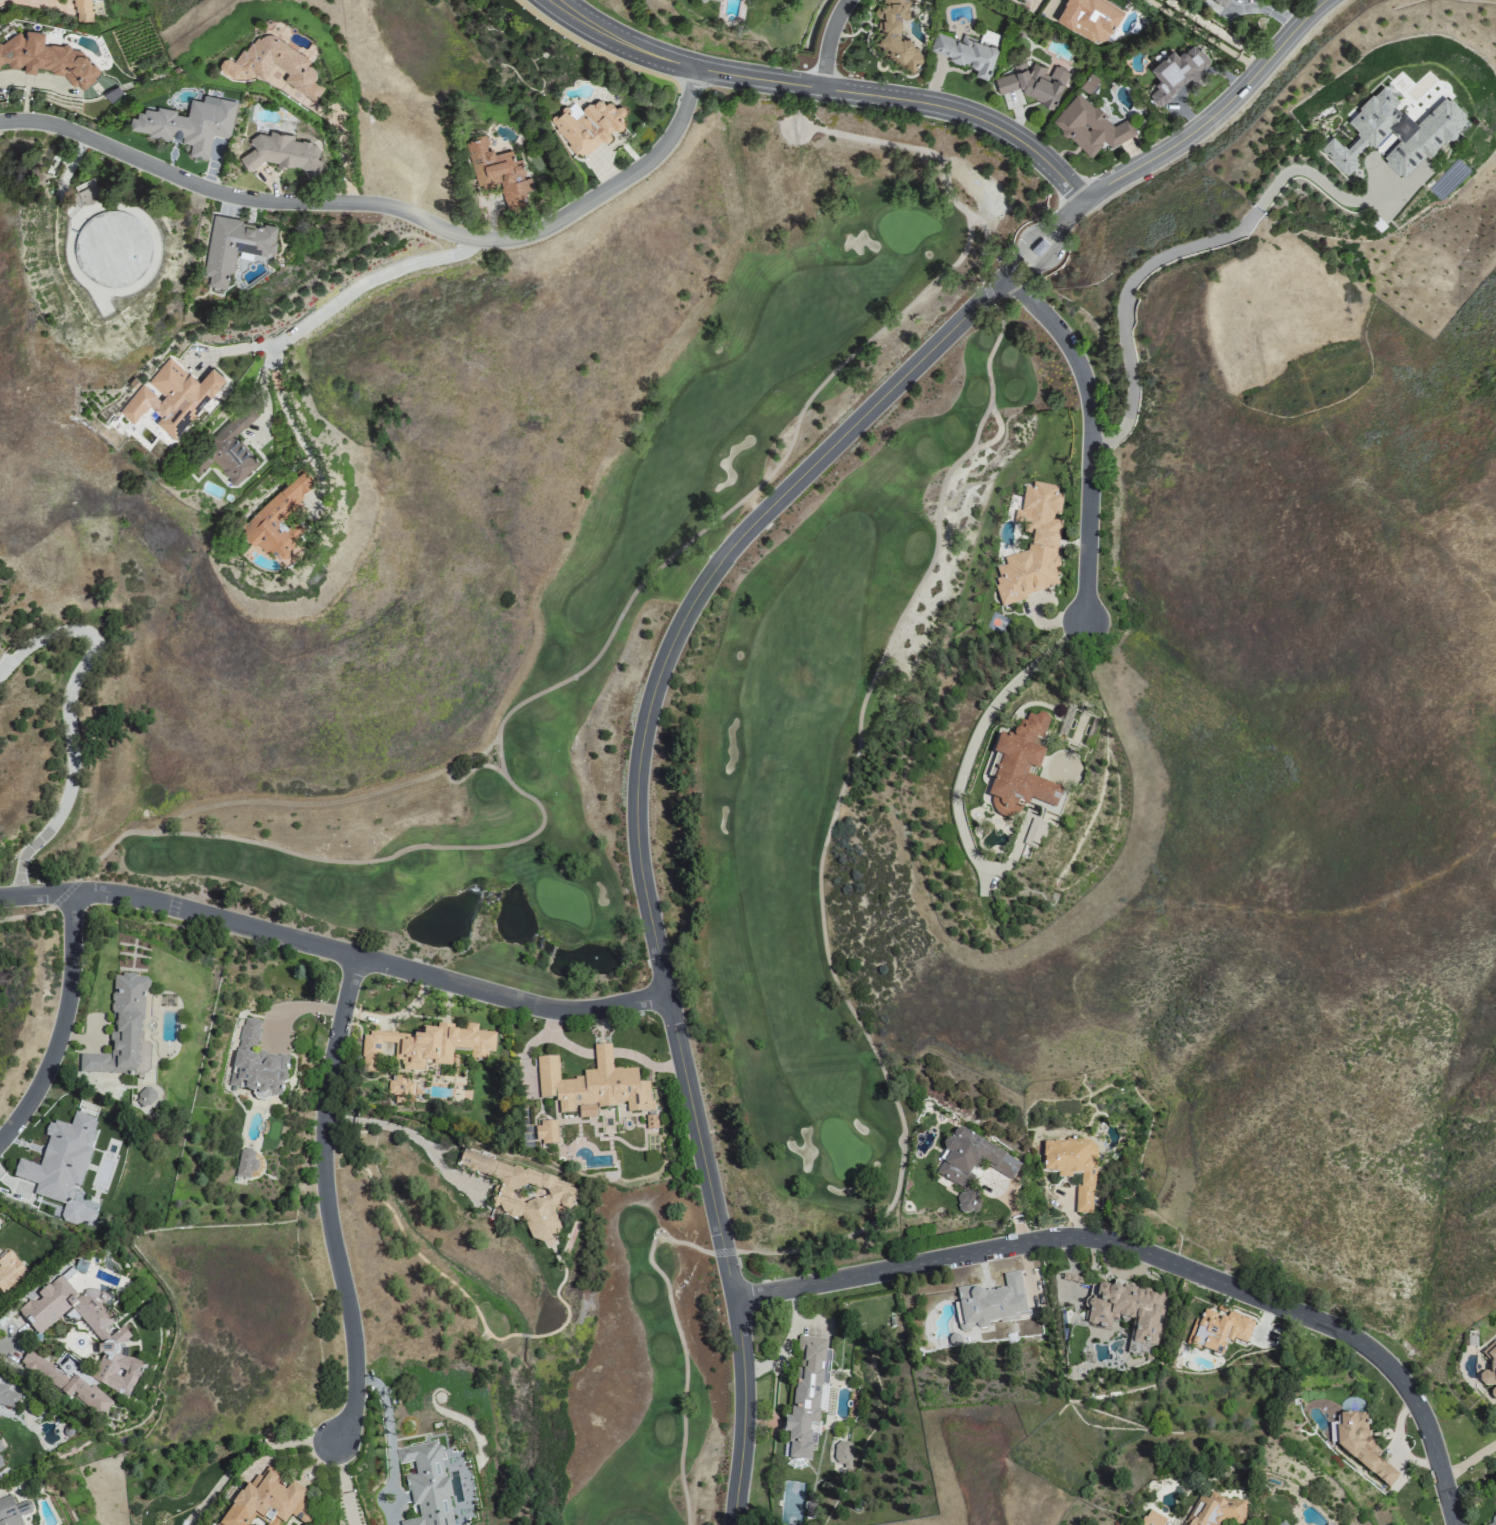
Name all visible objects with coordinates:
building: (719, 0)
building: (1026, 0)
building: (1221, 2)
building: (82, 10)
building: (896, 34)
road: (1202, 35)
road: (832, 44)
building: (967, 51)
building: (46, 58)
building: (245, 68)
building: (1034, 83)
building: (1089, 83)
road: (820, 91)
building: (188, 123)
road: (1202, 123)
building: (587, 126)
building: (1090, 127)
building: (1396, 133)
road: (340, 144)
road: (897, 145)
building: (283, 152)
building: (496, 170)
building: (514, 204)
road: (384, 205)
park: (903, 229)
road: (1034, 237)
building: (234, 246)
building: (1038, 247)
road: (1049, 249)
road: (1164, 254)
road: (1013, 269)
road: (1019, 274)
road: (370, 284)
building: (171, 396)
road: (282, 404)
road: (1088, 434)
road: (994, 436)
building: (278, 517)
building: (1032, 546)
road: (70, 715)
road: (499, 719)
park: (669, 749)
road: (965, 762)
building: (1020, 770)
road: (446, 773)
building: (1033, 832)
road: (639, 838)
road: (336, 951)
road: (828, 969)
road: (300, 1005)
road: (61, 1024)
building: (122, 1032)
building: (427, 1046)
building: (256, 1065)
building: (592, 1086)
building: (399, 1088)
building: (145, 1095)
building: (545, 1133)
road: (412, 1134)
building: (972, 1158)
building: (247, 1162)
building: (61, 1166)
building: (1071, 1166)
building: (525, 1194)
building: (967, 1201)
road: (330, 1203)
park: (303, 1229)
road: (1157, 1256)
building: (9, 1271)
building: (990, 1301)
building: (1126, 1310)
building: (1218, 1330)
building: (111, 1337)
road: (7, 1339)
building: (1489, 1368)
building: (67, 1384)
building: (806, 1394)
building: (7, 1398)
building: (1361, 1446)
building: (0, 1449)
building: (841, 1452)
road: (243, 1455)
road: (390, 1456)
road: (1468, 1458)
building: (0, 1465)
road: (342, 1484)
building: (426, 1484)
building: (267, 1501)
building: (1215, 1510)
building: (13, 1512)
building: (1151, 1519)
building: (1491, 1521)
building: (1283, 1523)

